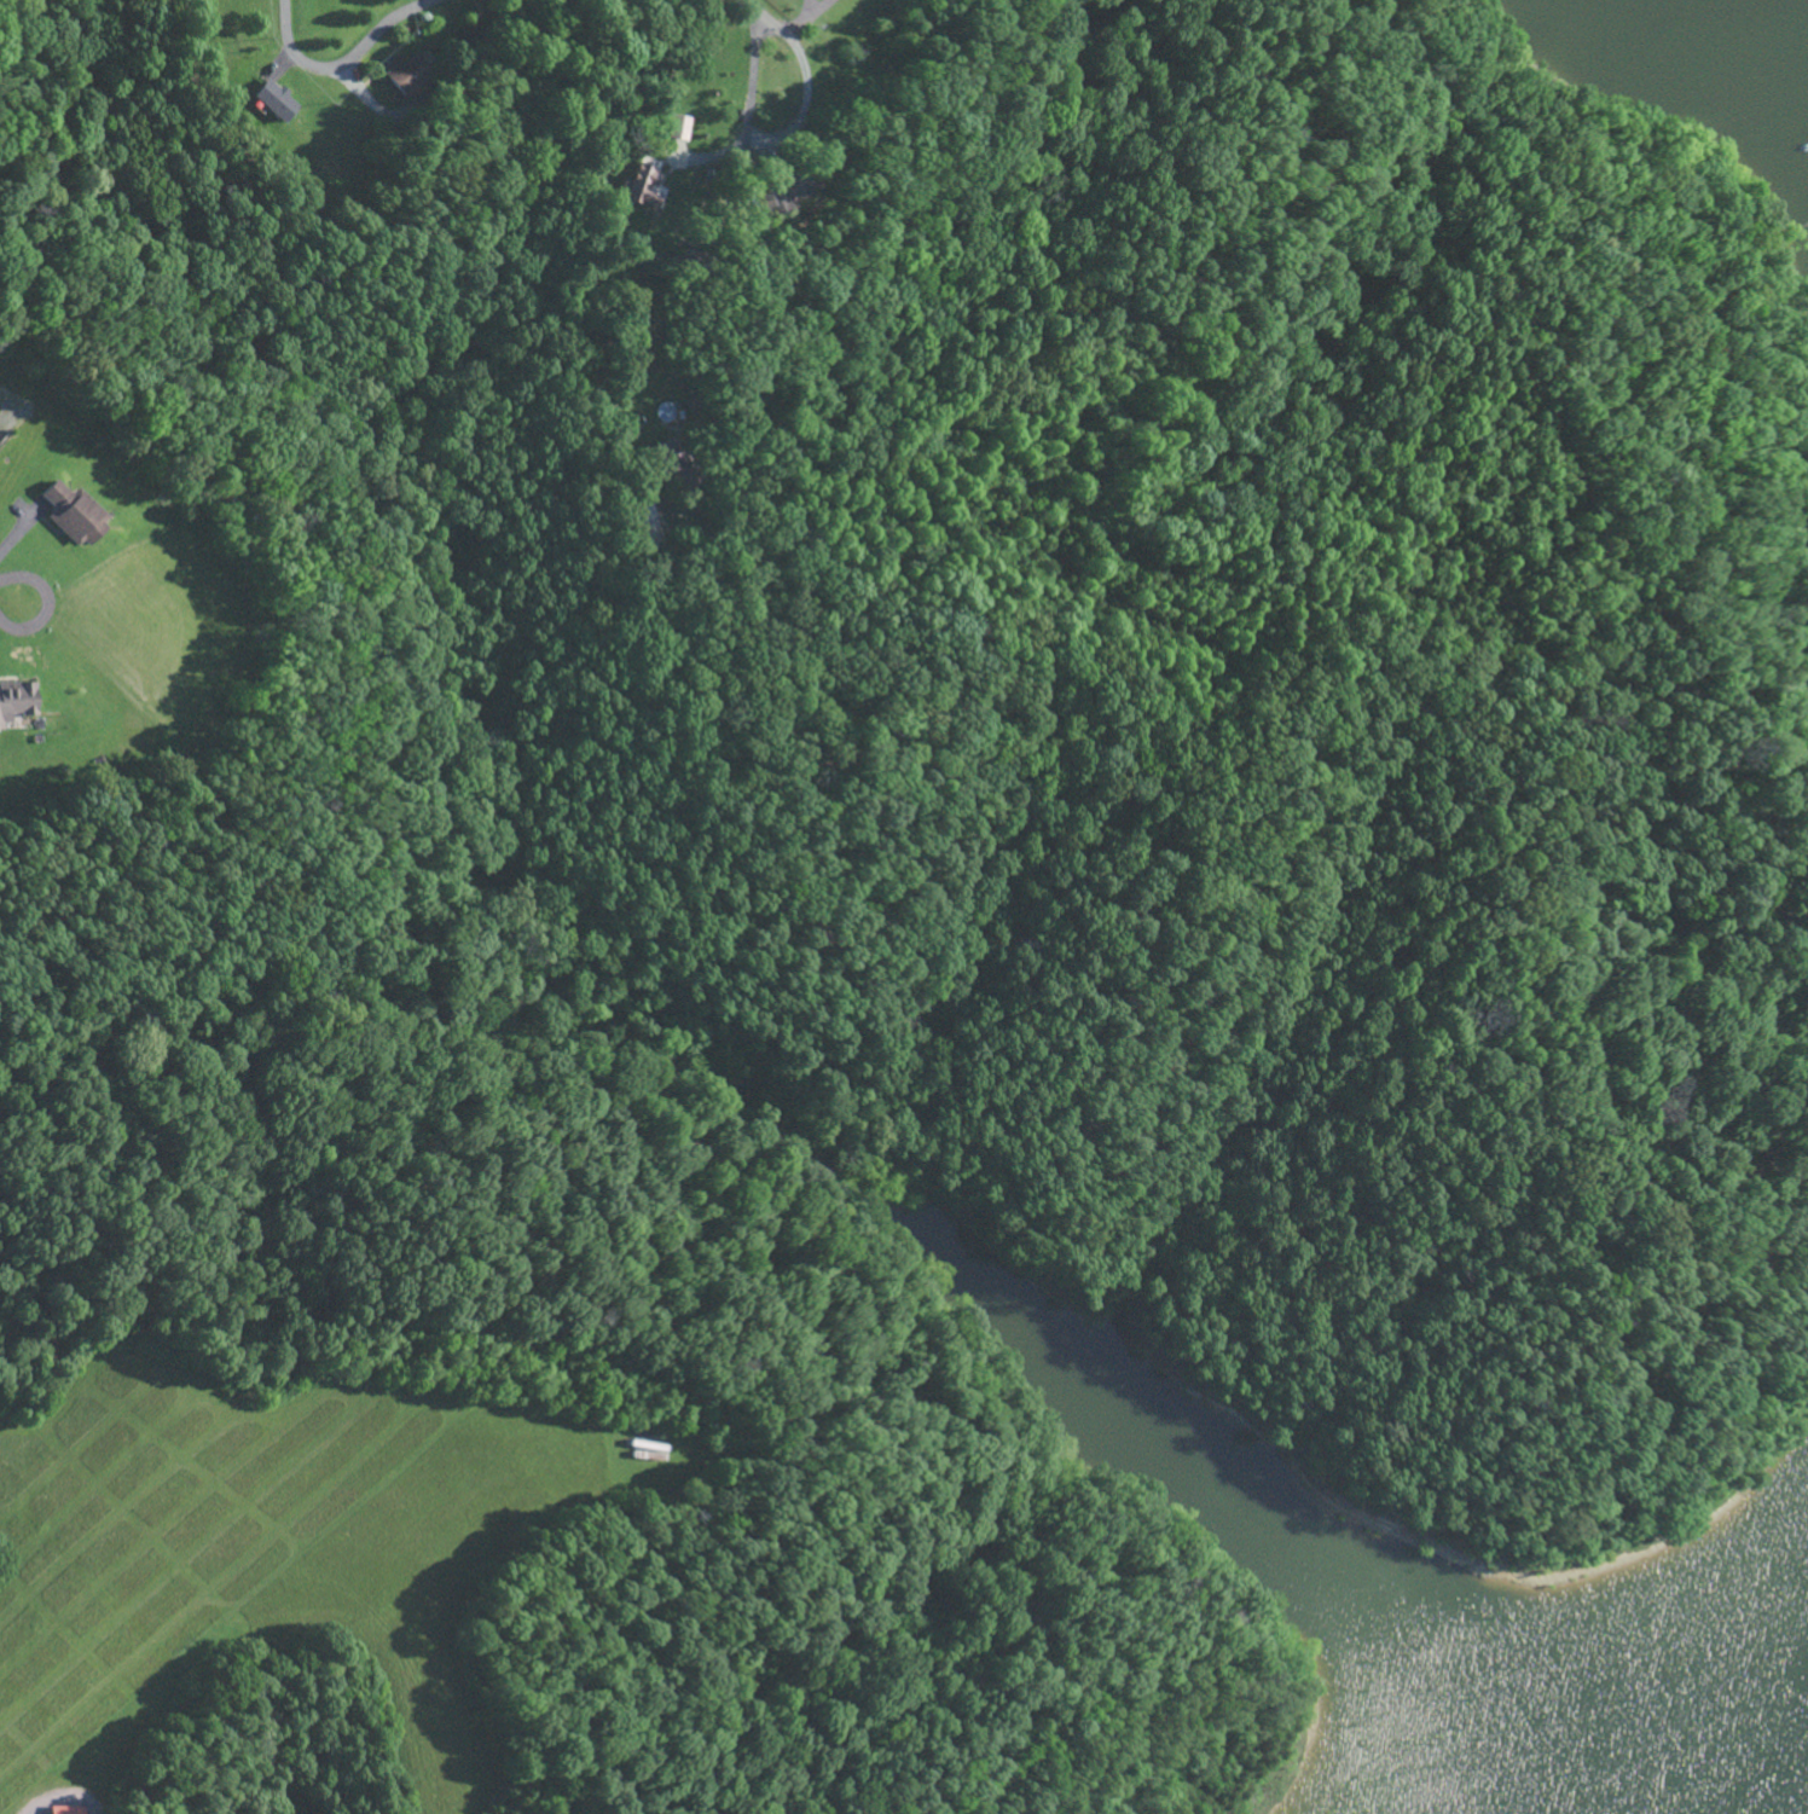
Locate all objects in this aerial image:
road: (763, 15)
road: (344, 60)
building: (405, 73)
building: (274, 98)
building: (677, 126)
road: (758, 139)
building: (641, 185)
building: (783, 186)
building: (70, 512)
building: (645, 520)
road: (45, 605)
building: (15, 700)
building: (62, 1809)

